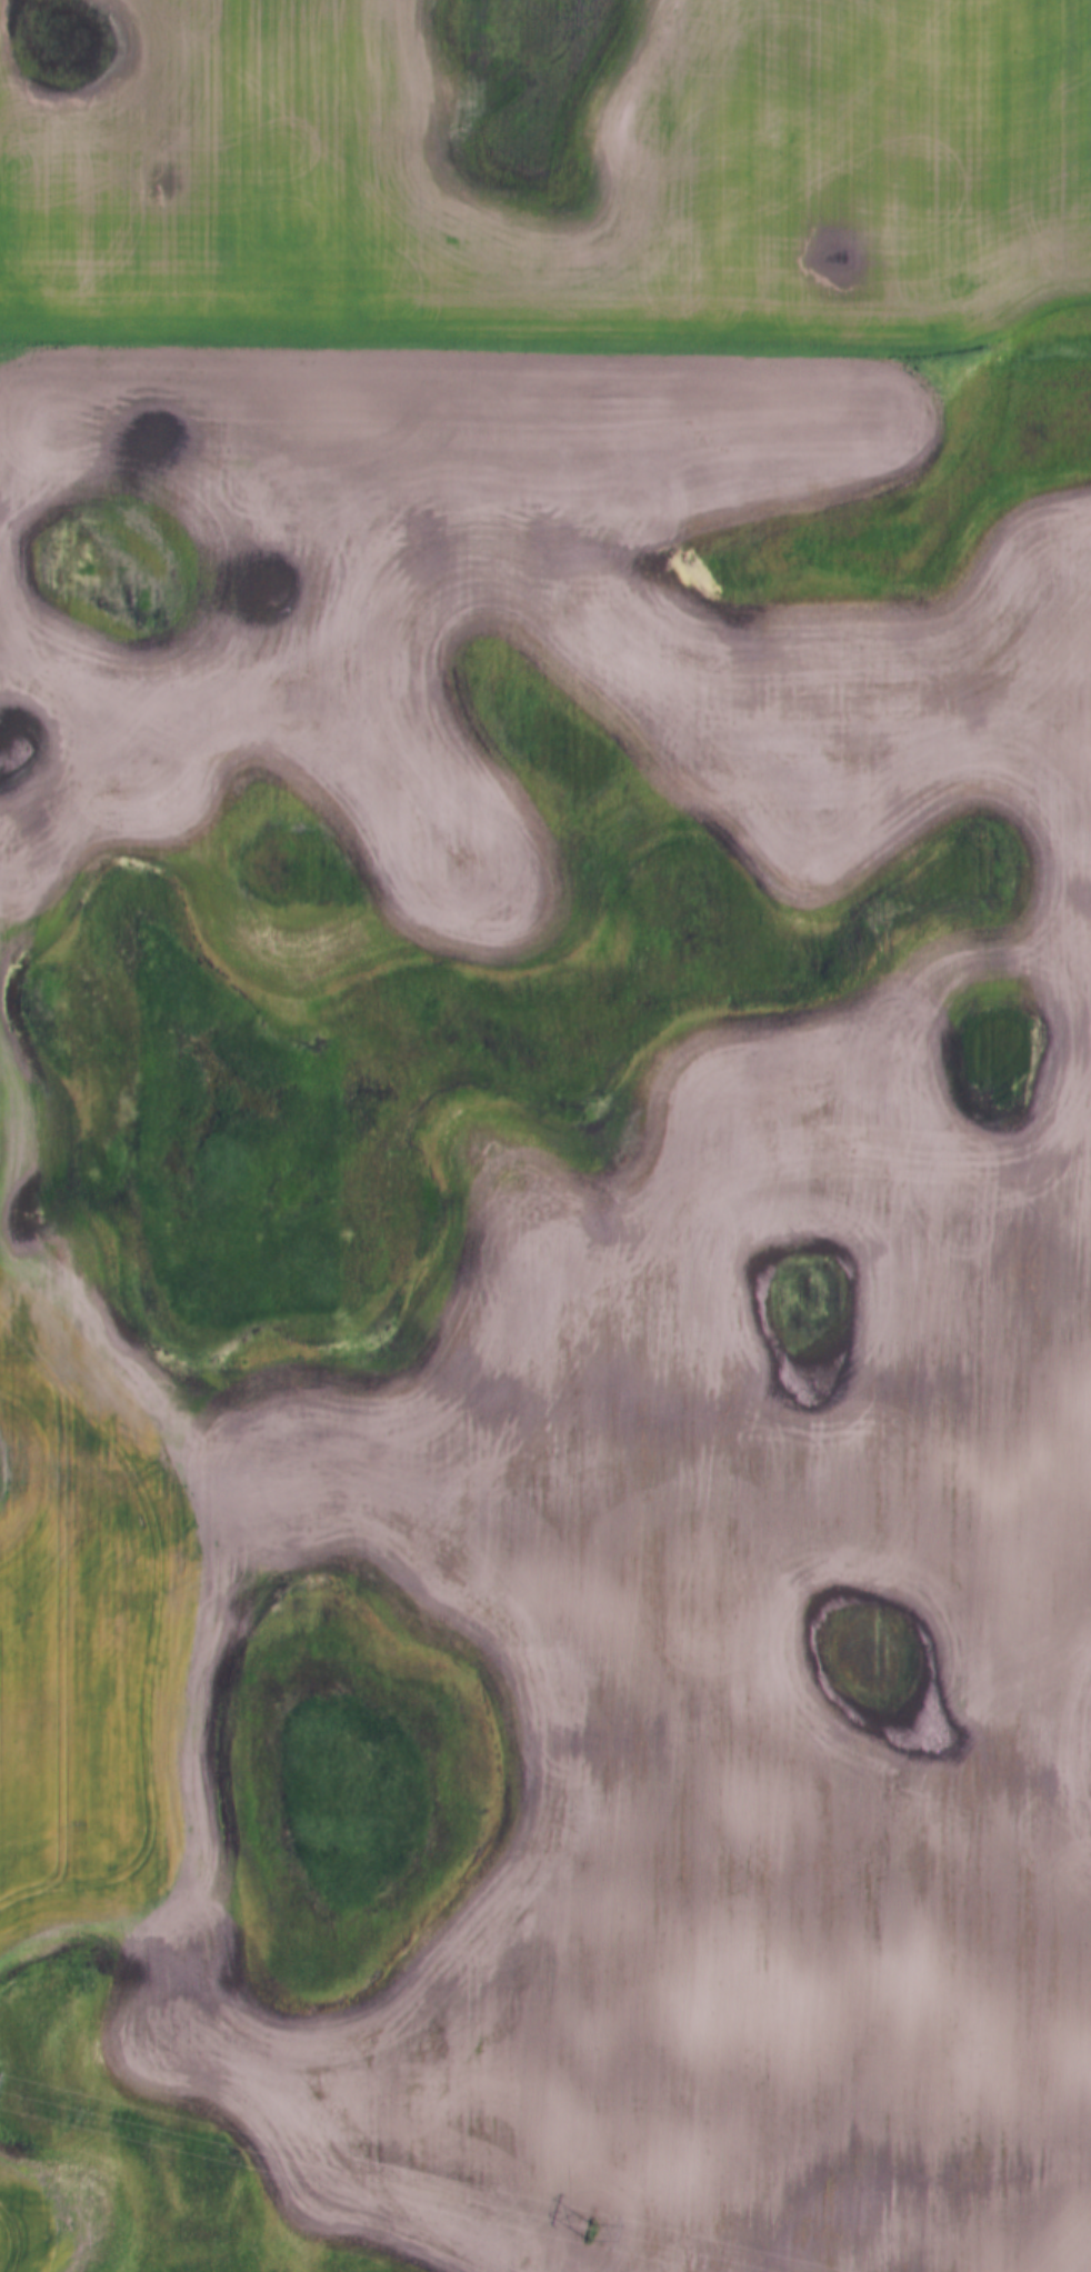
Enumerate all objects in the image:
power tower: (592, 2233)

